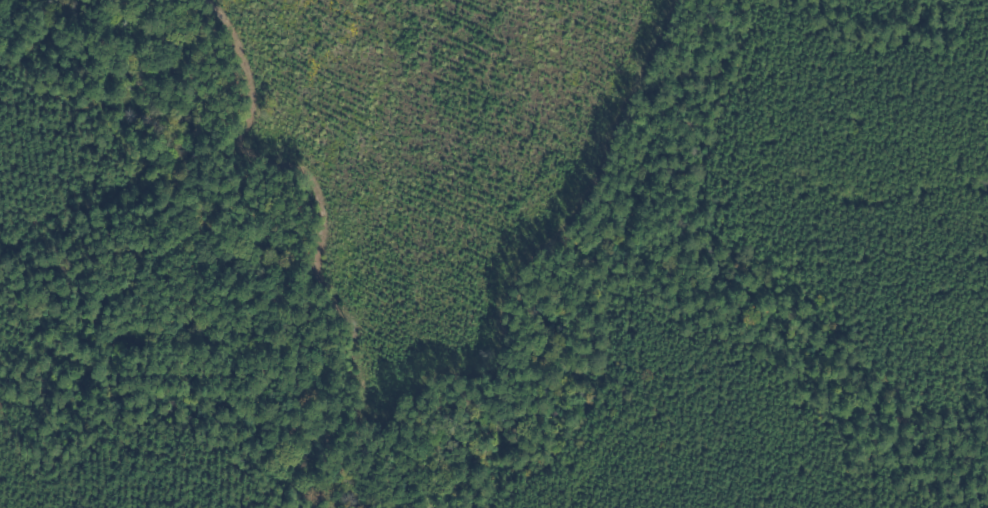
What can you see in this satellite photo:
road: (710, 400)

